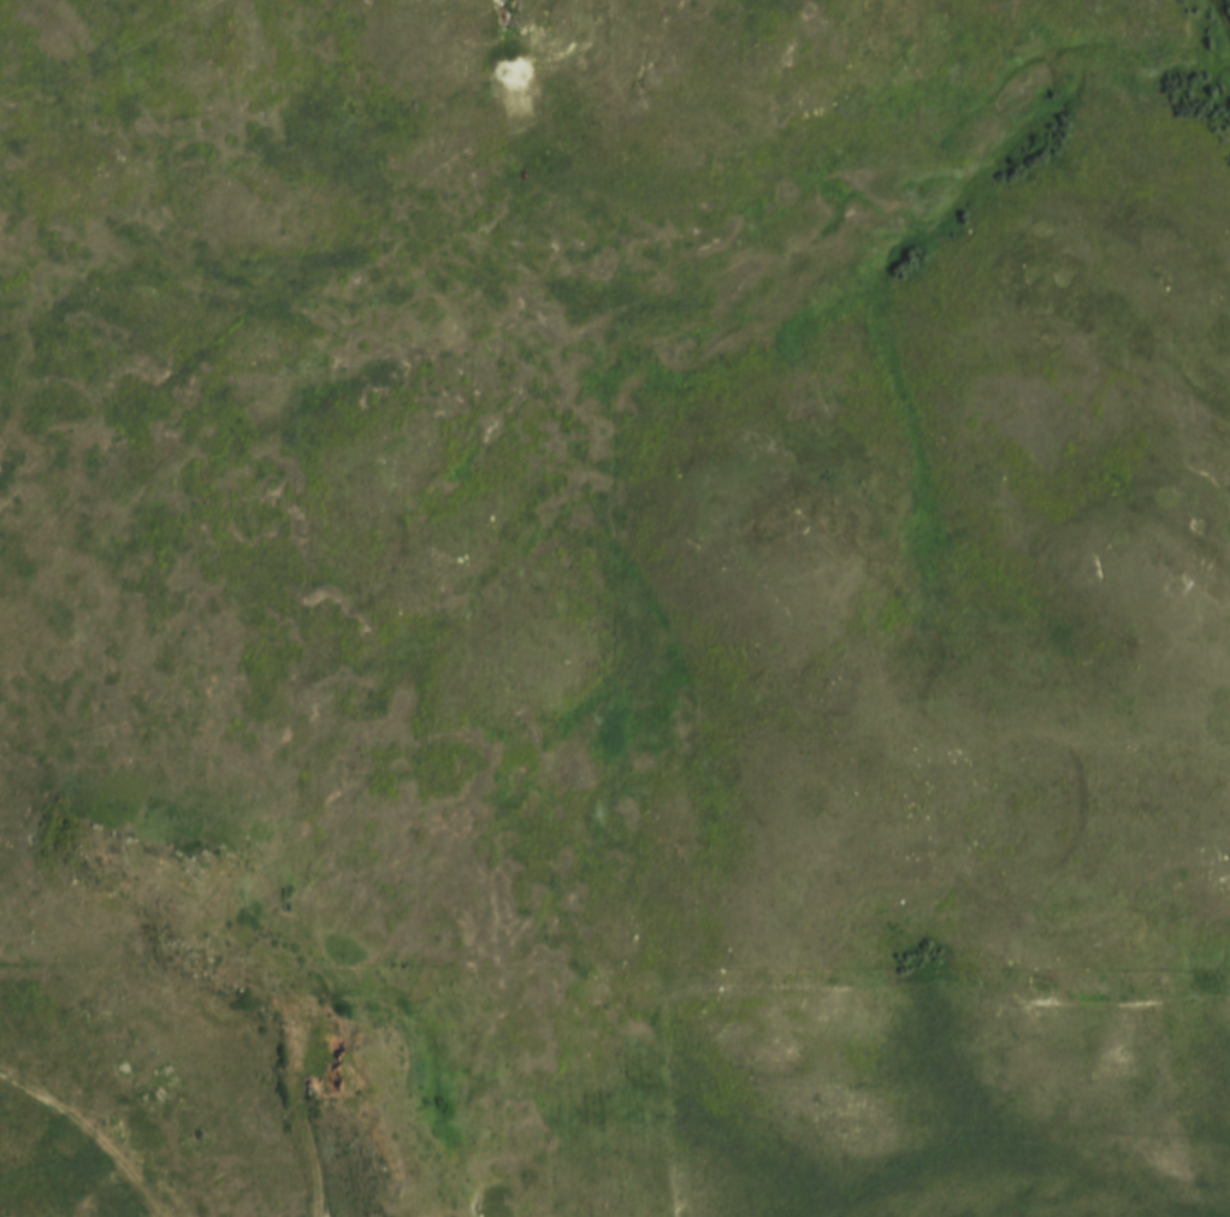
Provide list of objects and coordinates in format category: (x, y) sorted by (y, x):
road: (444, 0)
road: (114, 54)
road: (91, 1134)

